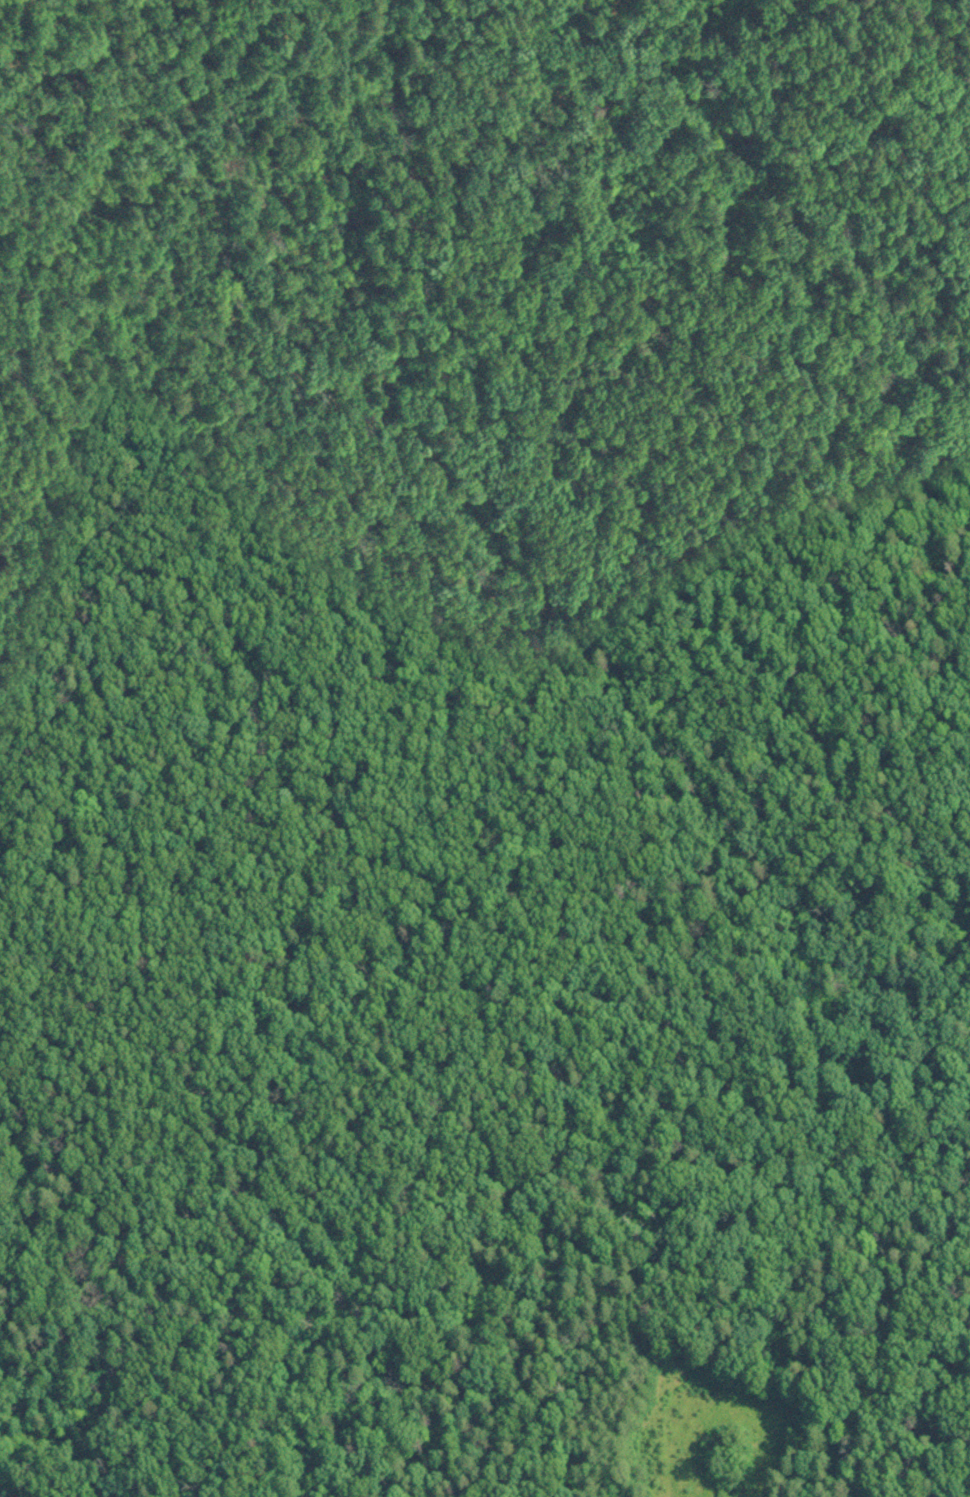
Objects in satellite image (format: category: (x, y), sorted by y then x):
road: (933, 15)
road: (842, 1283)

